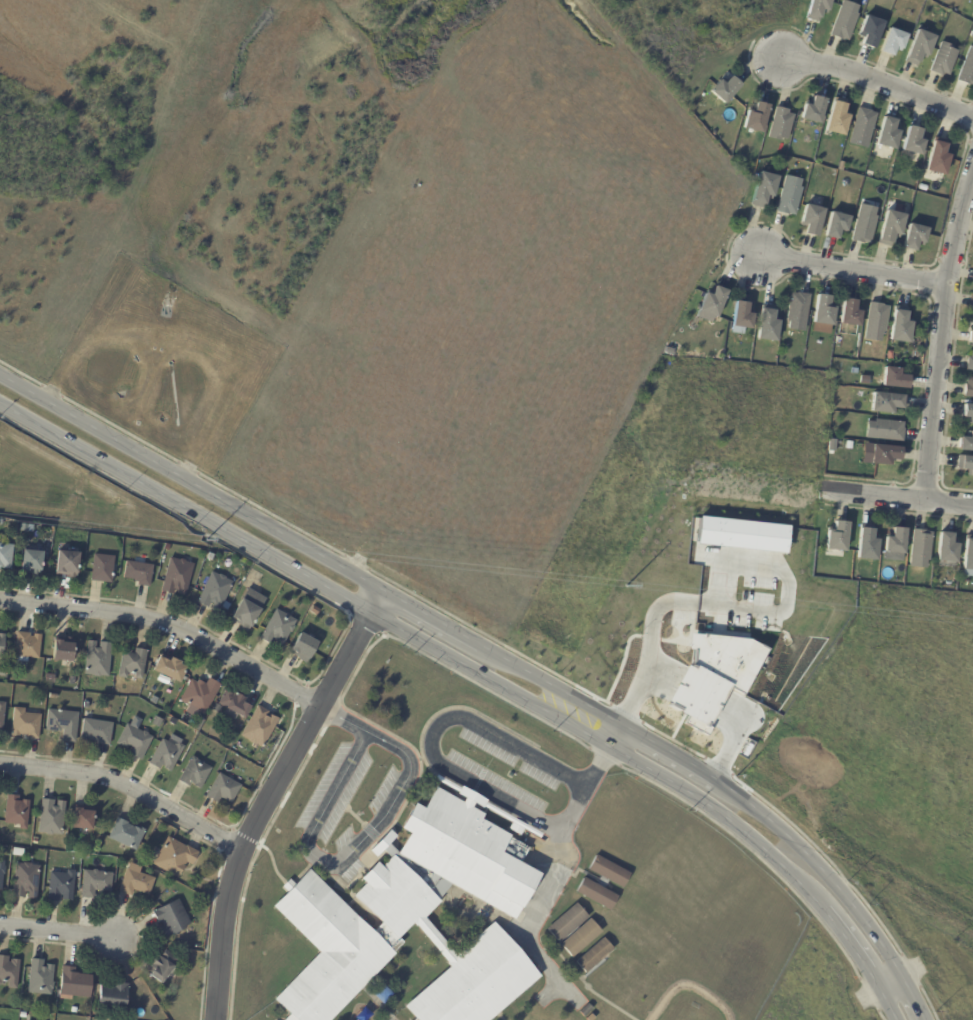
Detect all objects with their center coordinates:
building: (819, 9)
building: (844, 21)
building: (870, 31)
building: (972, 34)
building: (894, 41)
building: (920, 48)
building: (944, 59)
building: (967, 70)
road: (868, 78)
building: (725, 90)
building: (814, 111)
building: (757, 118)
building: (837, 118)
building: (781, 124)
building: (862, 127)
building: (888, 135)
building: (913, 142)
building: (938, 158)
building: (923, 188)
building: (764, 190)
building: (790, 197)
building: (813, 220)
building: (837, 225)
building: (865, 225)
building: (891, 229)
building: (915, 237)
road: (852, 272)
building: (714, 302)
building: (972, 306)
building: (824, 310)
building: (798, 312)
building: (850, 314)
building: (742, 318)
building: (876, 321)
building: (705, 323)
building: (768, 325)
building: (900, 326)
road: (942, 335)
building: (971, 338)
building: (890, 356)
building: (731, 359)
building: (970, 363)
building: (895, 379)
building: (969, 388)
building: (887, 403)
building: (968, 414)
building: (885, 431)
building: (967, 445)
building: (885, 456)
building: (965, 465)
road: (192, 483)
road: (896, 498)
building: (24, 528)
building: (838, 537)
power tower: (205, 539)
building: (896, 542)
building: (867, 543)
building: (167, 548)
building: (947, 549)
building: (921, 550)
building: (6, 556)
building: (211, 556)
building: (968, 558)
building: (31, 562)
building: (67, 563)
building: (102, 568)
building: (139, 573)
building: (177, 576)
power tower: (624, 585)
building: (215, 591)
building: (248, 609)
road: (438, 622)
road: (169, 625)
building: (278, 629)
road: (421, 641)
building: (2, 645)
building: (27, 647)
building: (304, 648)
building: (64, 650)
building: (97, 659)
building: (132, 663)
building: (171, 669)
building: (2, 673)
building: (50, 678)
road: (556, 687)
building: (54, 696)
building: (200, 696)
building: (234, 705)
building: (217, 708)
building: (119, 713)
building: (2, 717)
road: (343, 720)
building: (192, 722)
building: (26, 724)
building: (63, 724)
building: (199, 724)
road: (441, 726)
building: (260, 727)
building: (97, 731)
building: (135, 741)
road: (673, 754)
building: (166, 755)
parking lot: (503, 771)
building: (195, 773)
road: (128, 786)
building: (223, 789)
parking lot: (384, 789)
parking lot: (334, 794)
road: (270, 795)
building: (17, 811)
building: (51, 817)
building: (83, 818)
road: (359, 820)
building: (126, 834)
parking lot: (344, 839)
building: (35, 841)
building: (384, 846)
building: (18, 853)
building: (465, 853)
building: (8, 855)
building: (175, 857)
road: (345, 858)
road: (820, 870)
building: (2, 872)
building: (611, 872)
building: (26, 880)
building: (96, 883)
building: (136, 883)
building: (61, 886)
building: (598, 894)
building: (396, 898)
building: (172, 918)
building: (568, 923)
road: (57, 932)
building: (582, 938)
road: (851, 943)
building: (328, 951)
building: (595, 955)
building: (163, 967)
building: (9, 971)
road: (888, 976)
building: (40, 978)
building: (476, 982)
building: (75, 983)
crop: (820, 988)
building: (114, 994)
road: (914, 995)
road: (888, 1000)
building: (74, 1011)
building: (586, 1011)
building: (23, 1016)
building: (591, 1017)

